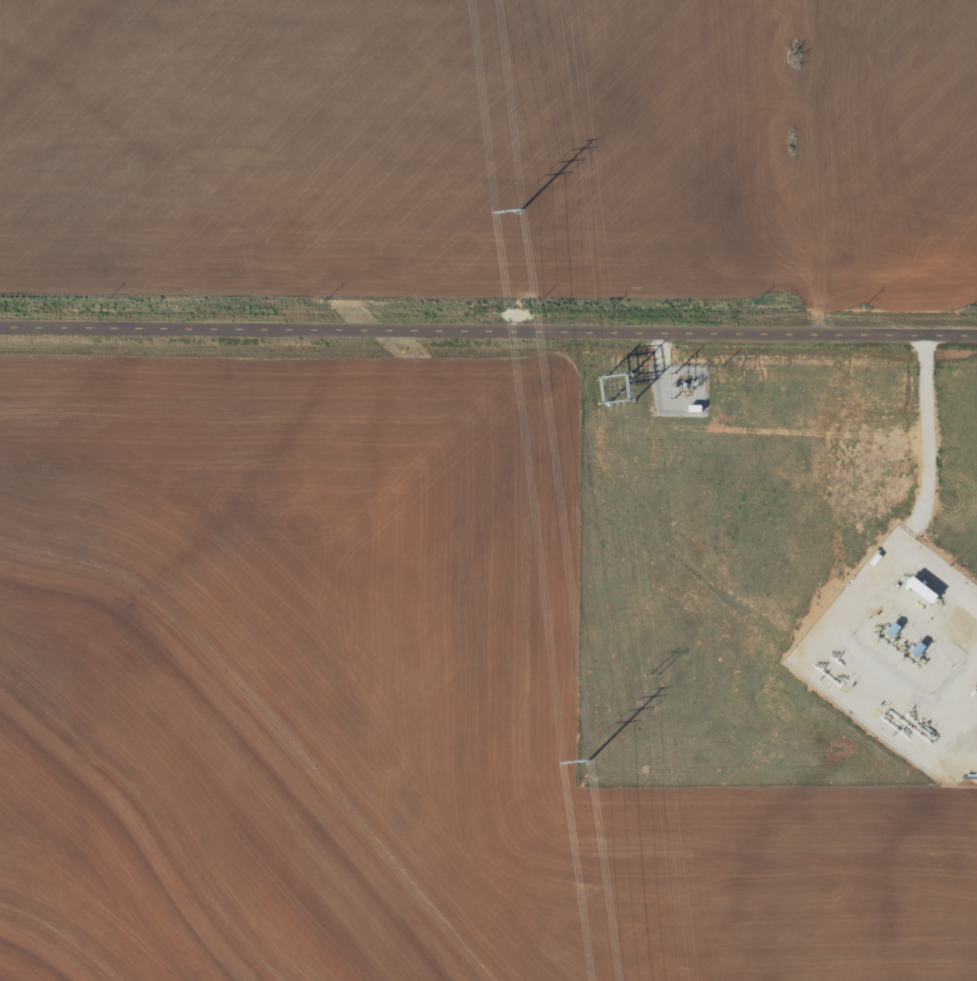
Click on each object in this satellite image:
power tower: (521, 212)
power tower: (611, 307)
road: (488, 336)
power substation: (678, 388)
power tower: (653, 674)
power tower: (587, 761)

